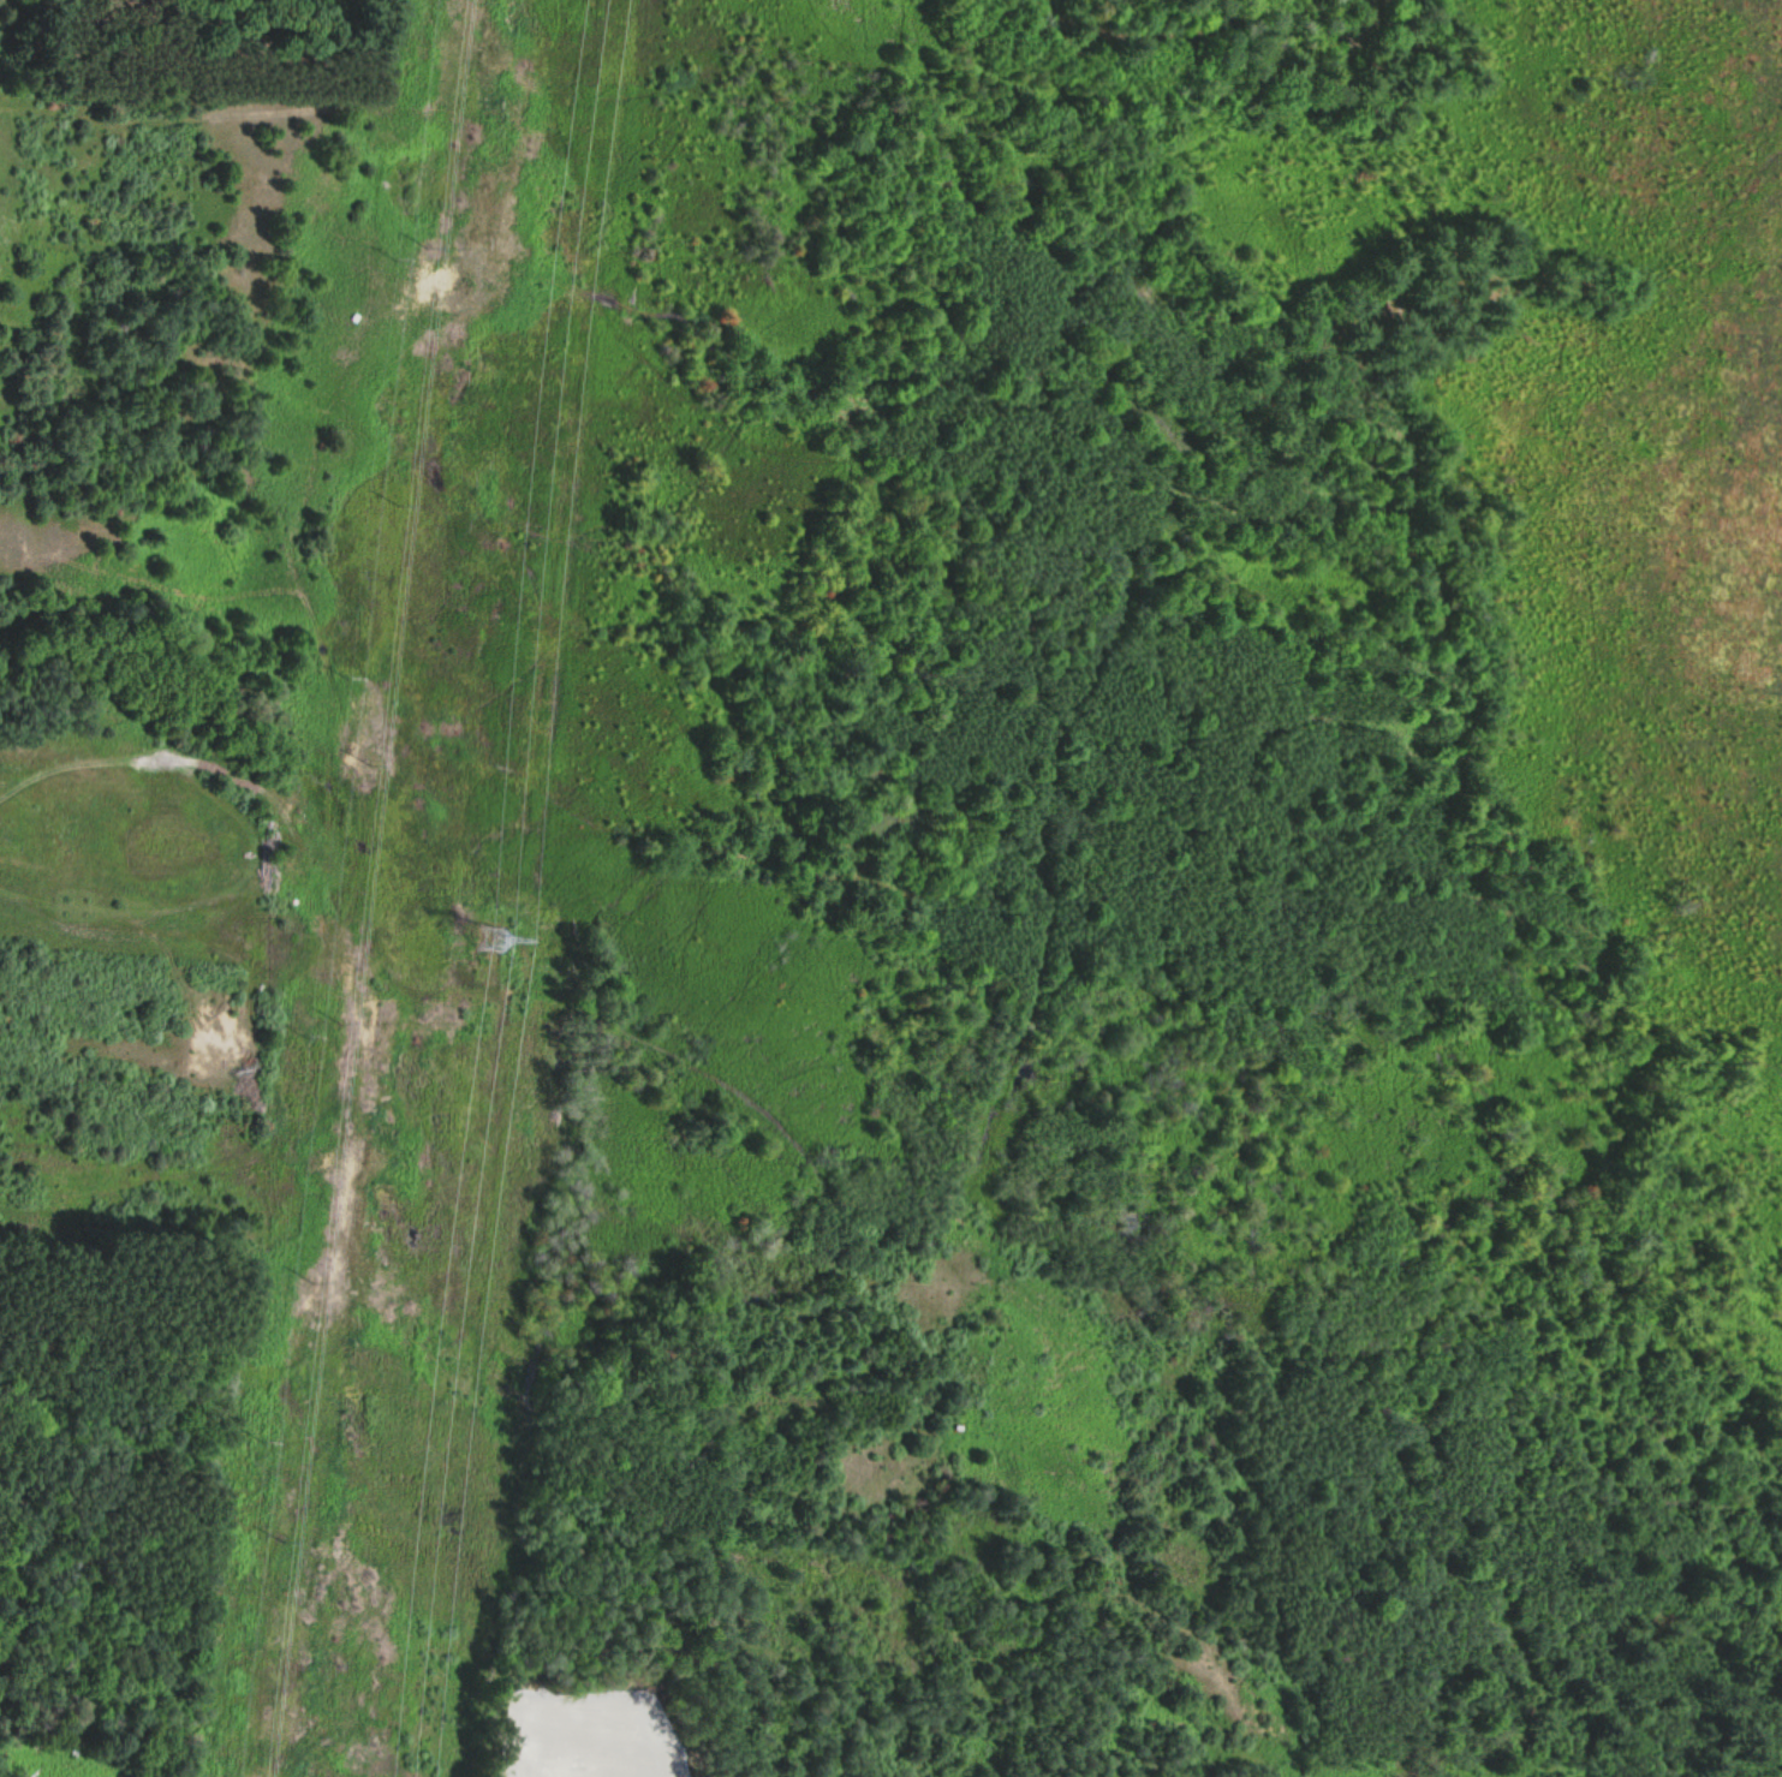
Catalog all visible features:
power tower: (489, 937)

